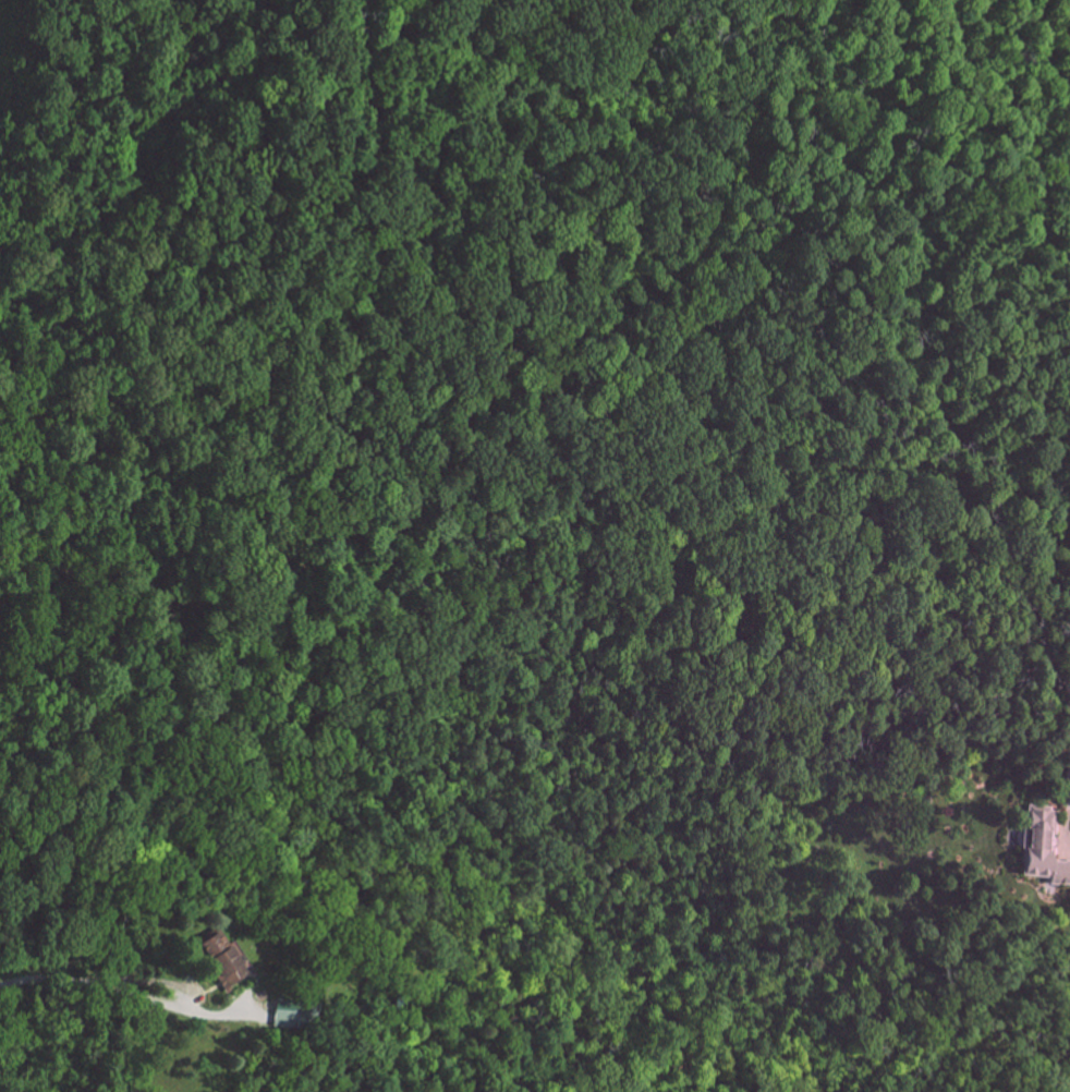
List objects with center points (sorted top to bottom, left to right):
road: (1068, 786)
road: (1063, 824)
building: (1044, 847)
building: (223, 959)
road: (51, 982)
road: (175, 1005)
building: (289, 1012)

